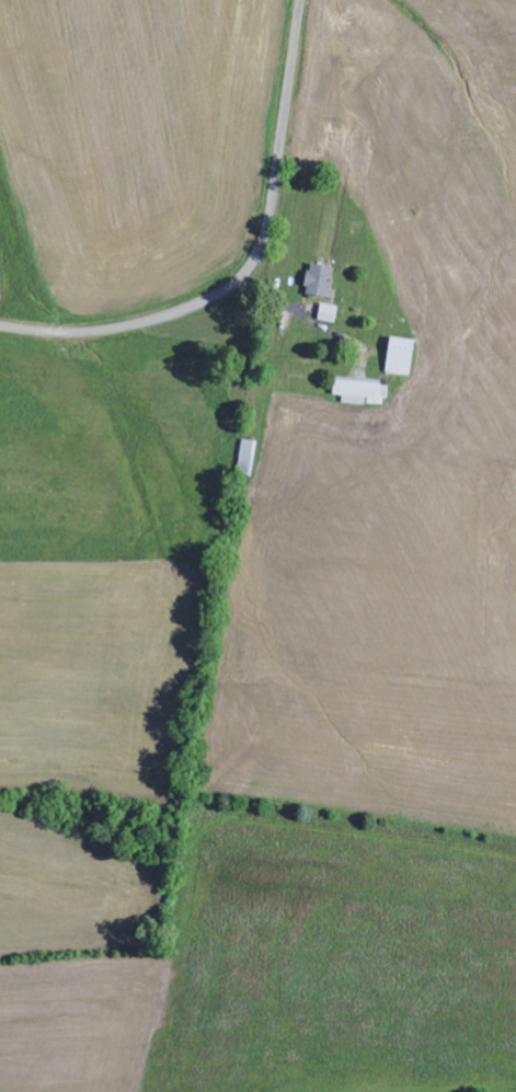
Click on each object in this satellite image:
road: (249, 261)
building: (322, 280)
building: (331, 314)
building: (403, 357)
building: (364, 393)

